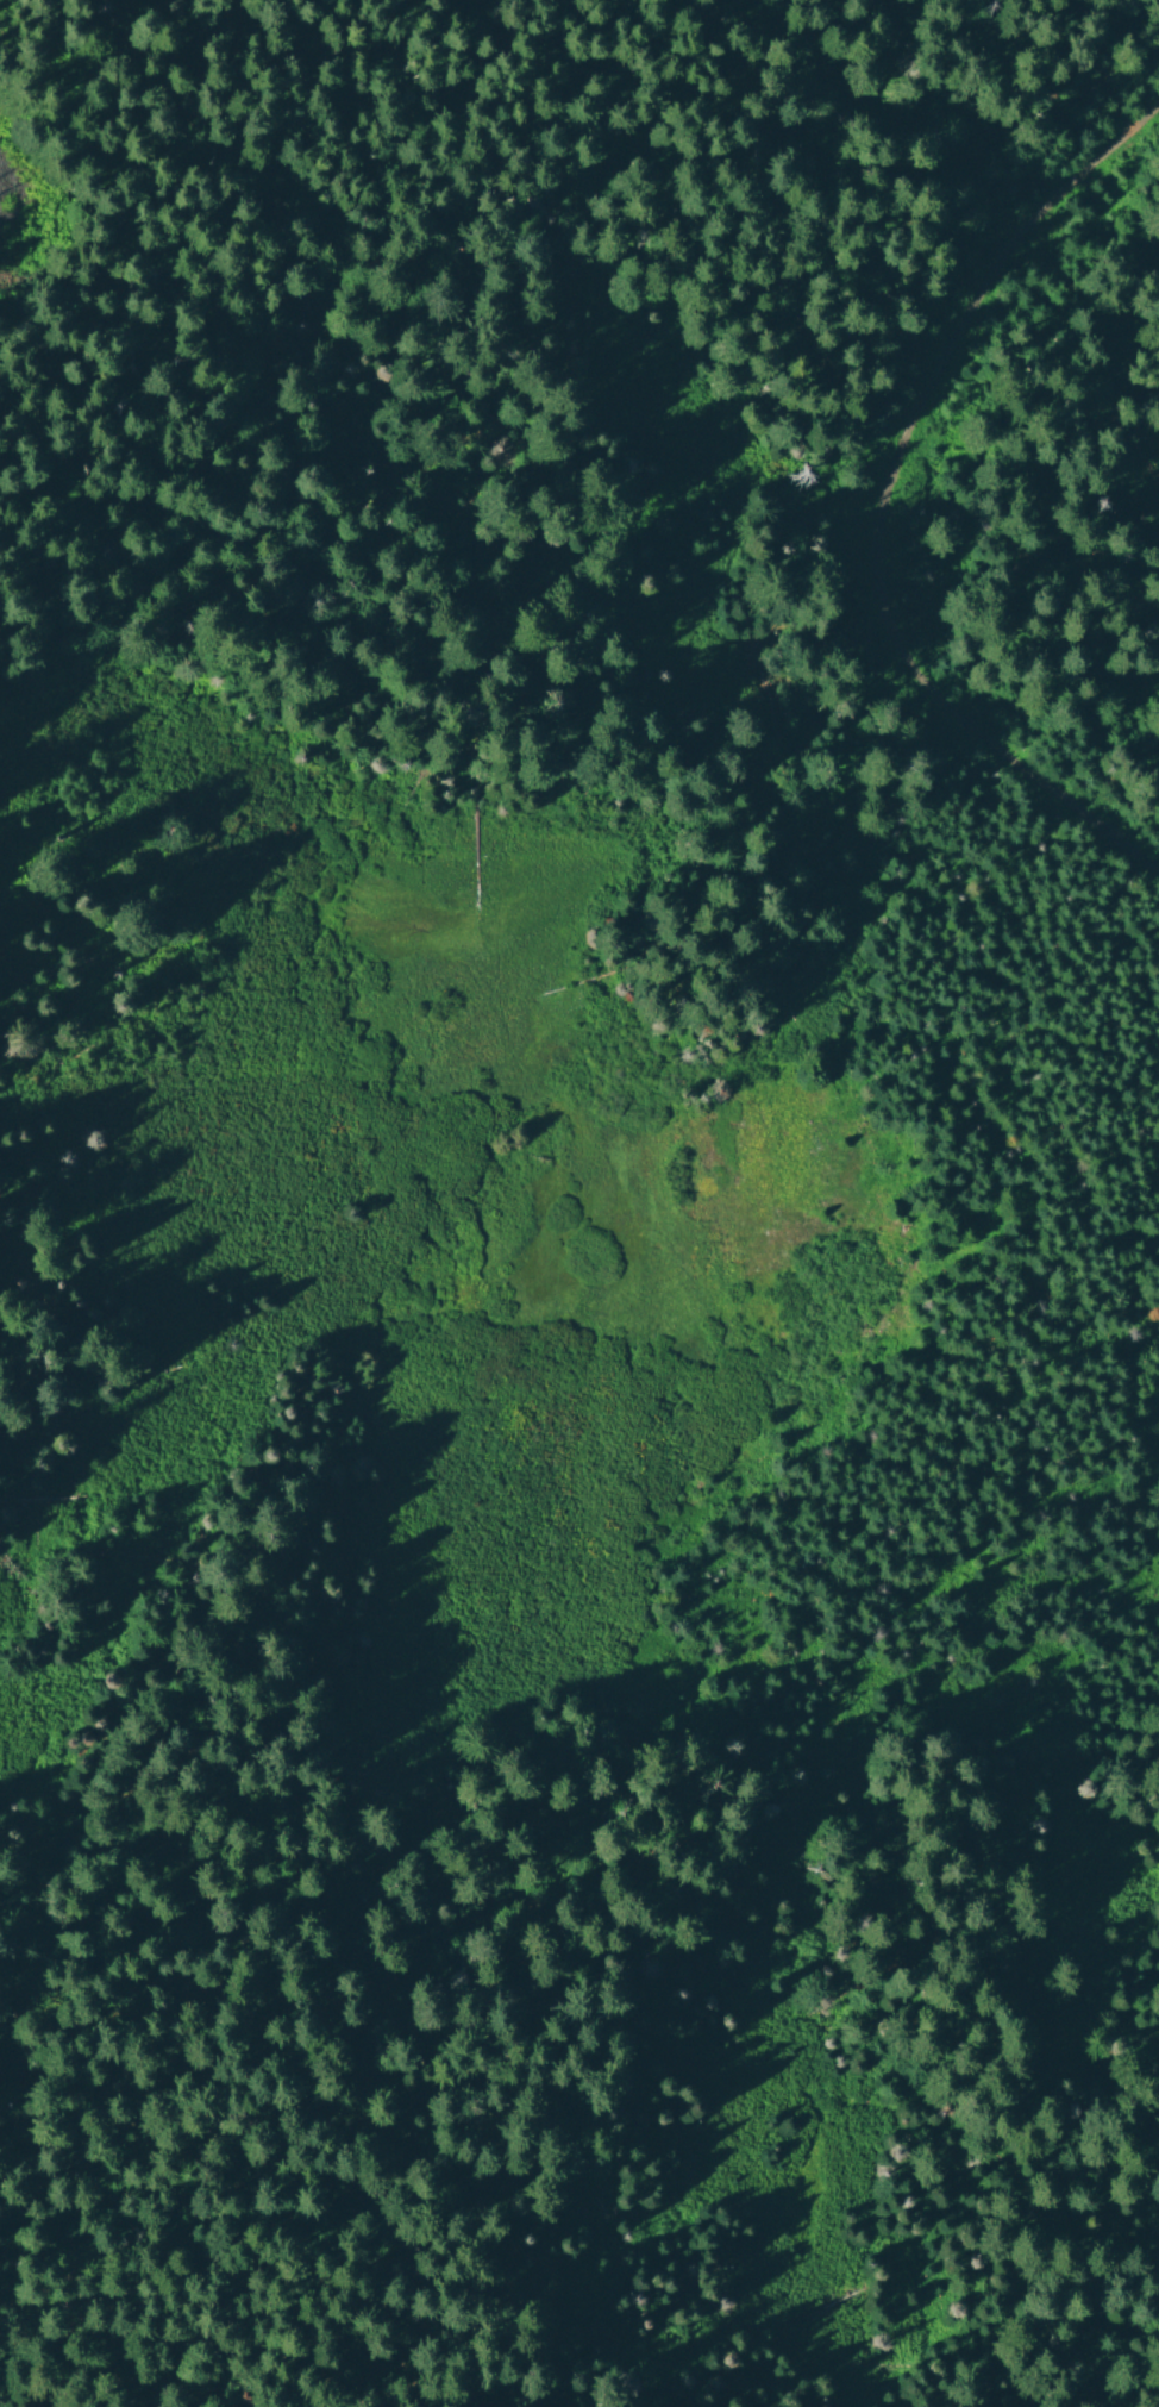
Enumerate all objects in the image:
road: (870, 500)

